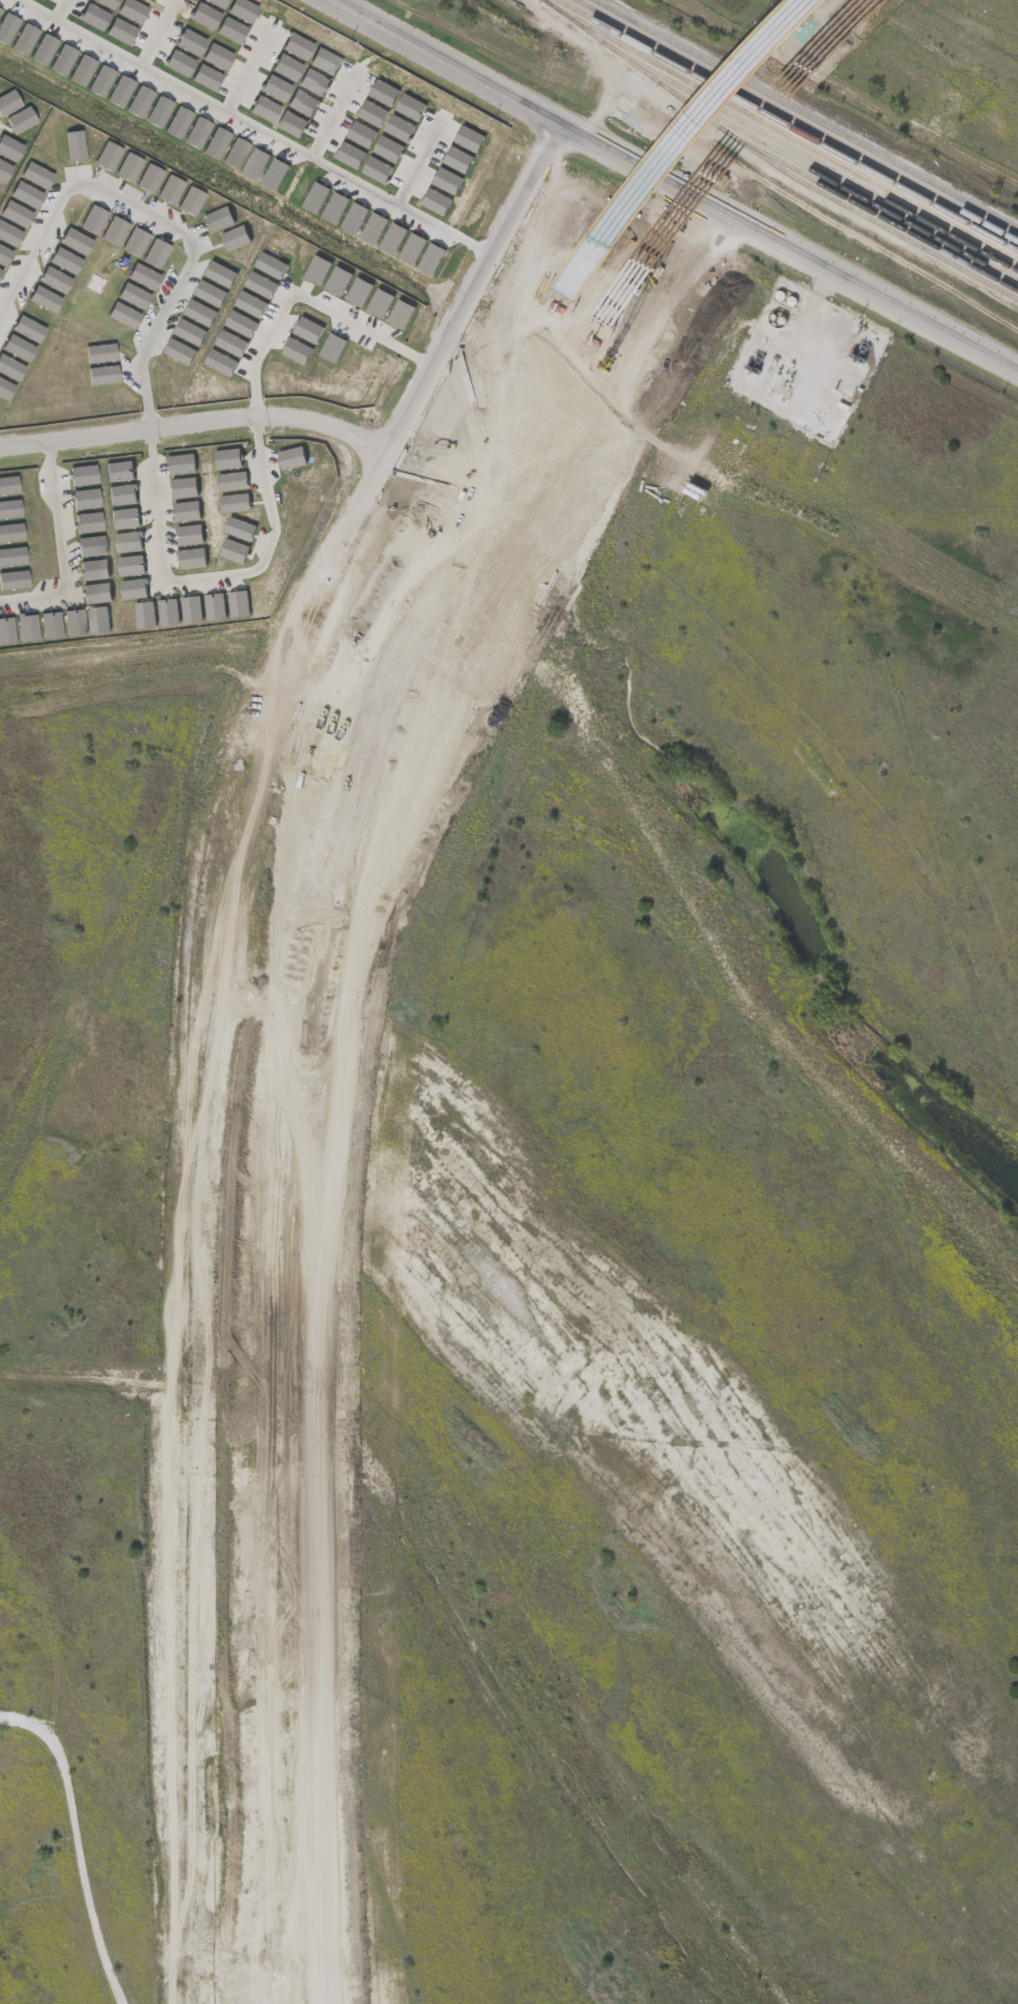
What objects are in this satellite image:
road: (62, 11)
road: (157, 34)
road: (249, 68)
road: (334, 115)
railway: (806, 115)
railway: (798, 118)
railway: (789, 123)
road: (251, 129)
railway: (783, 129)
railway: (821, 160)
railway: (773, 162)
road: (421, 163)
road: (679, 180)
railway: (843, 183)
railway: (877, 212)
road: (155, 219)
road: (454, 319)
building: (843, 319)
building: (766, 357)
road: (195, 421)
road: (268, 474)
road: (64, 552)
road: (71, 1842)

